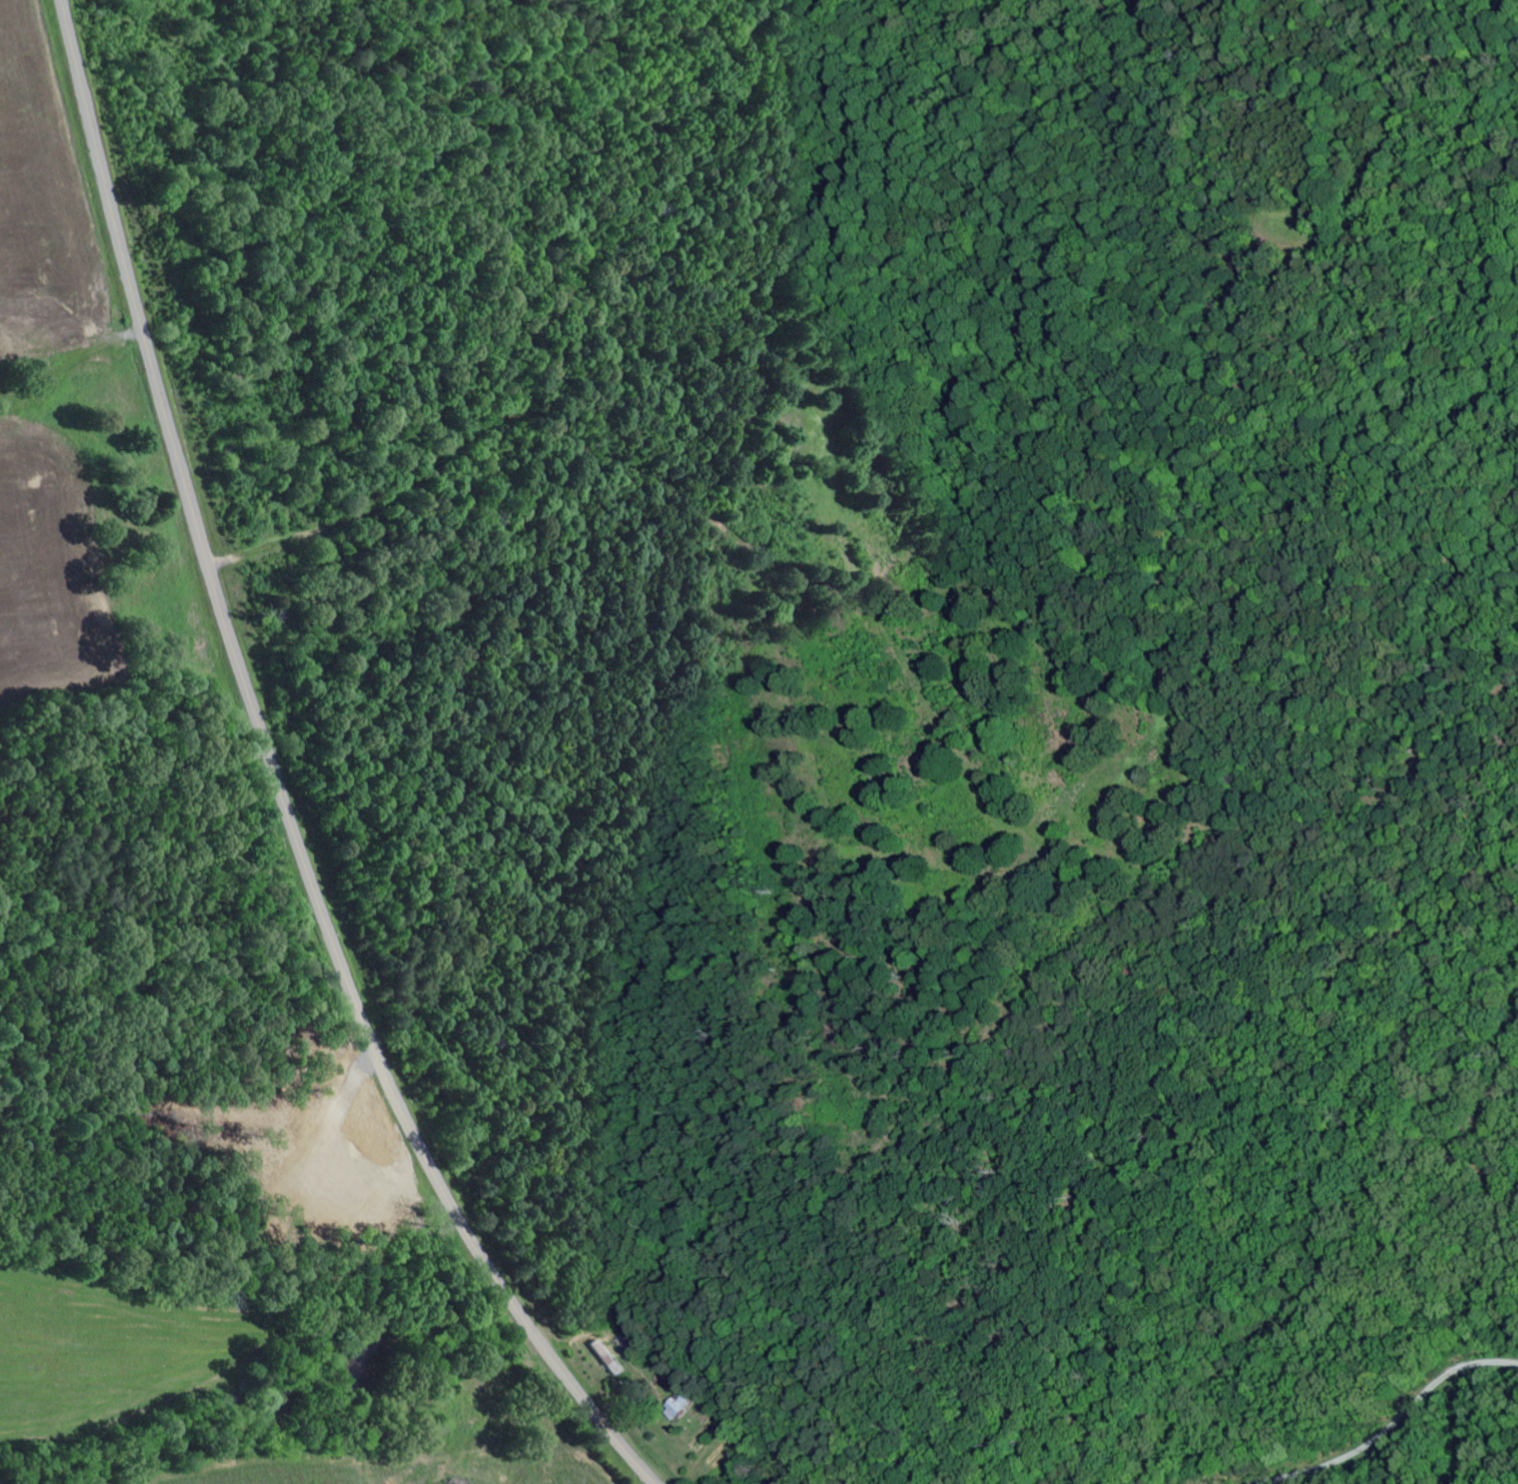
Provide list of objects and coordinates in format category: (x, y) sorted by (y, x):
road: (279, 776)
building: (606, 1359)
building: (679, 1404)
road: (1396, 1425)

